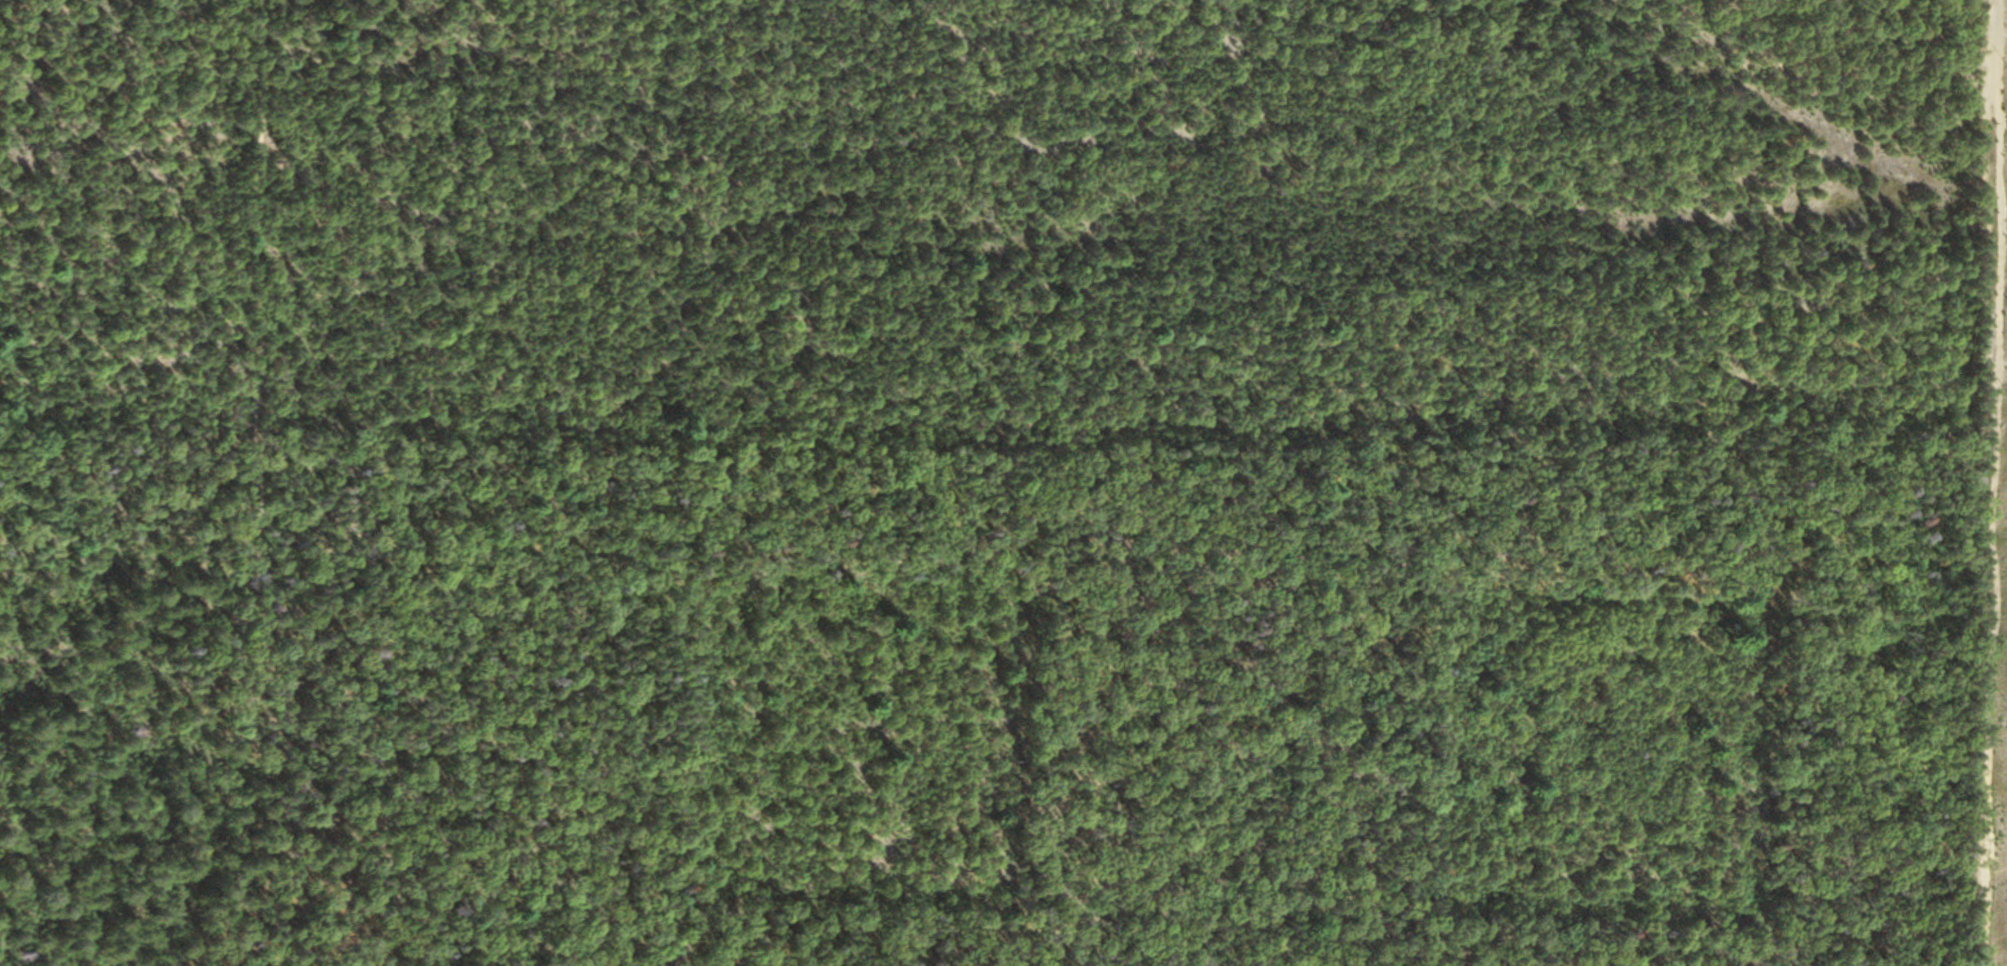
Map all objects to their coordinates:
road: (1995, 184)
road: (258, 495)
road: (1991, 667)

